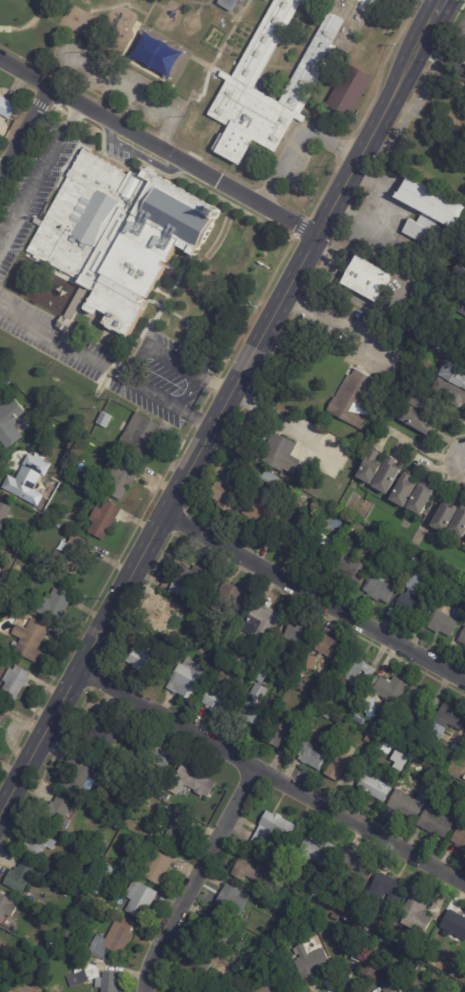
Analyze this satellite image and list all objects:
building: (268, 0)
building: (230, 4)
road: (438, 11)
road: (27, 23)
park: (35, 29)
building: (217, 29)
building: (264, 40)
building: (325, 47)
building: (191, 79)
road: (119, 84)
parking lot: (118, 86)
building: (349, 90)
building: (8, 106)
building: (245, 123)
building: (446, 123)
road: (25, 129)
road: (298, 138)
road: (158, 147)
parking lot: (295, 157)
road: (39, 166)
building: (427, 210)
road: (381, 212)
building: (170, 246)
building: (459, 269)
building: (365, 281)
building: (461, 308)
road: (333, 321)
road: (62, 340)
building: (431, 343)
building: (460, 345)
building: (441, 347)
road: (172, 361)
building: (453, 376)
building: (446, 392)
building: (352, 399)
building: (417, 400)
road: (167, 402)
road: (279, 414)
building: (411, 417)
road: (215, 421)
building: (12, 425)
building: (142, 434)
building: (276, 452)
building: (368, 466)
building: (292, 470)
building: (386, 474)
building: (124, 477)
building: (268, 479)
building: (26, 481)
building: (402, 488)
building: (222, 494)
building: (418, 500)
building: (313, 506)
building: (291, 509)
building: (256, 512)
building: (36, 517)
building: (442, 517)
building: (106, 520)
building: (6, 521)
building: (459, 522)
building: (291, 529)
building: (323, 537)
building: (21, 543)
building: (393, 545)
building: (0, 550)
building: (396, 554)
building: (76, 555)
building: (352, 562)
building: (186, 581)
building: (2, 582)
building: (377, 588)
road: (313, 599)
building: (410, 600)
building: (5, 602)
building: (58, 604)
building: (226, 605)
building: (164, 614)
building: (441, 620)
building: (260, 624)
building: (296, 632)
building: (462, 637)
building: (33, 639)
building: (173, 641)
building: (16, 644)
building: (327, 648)
building: (274, 653)
building: (145, 654)
building: (309, 663)
building: (354, 671)
building: (186, 681)
building: (17, 682)
building: (382, 694)
building: (218, 700)
building: (253, 704)
building: (413, 705)
building: (324, 714)
building: (3, 717)
building: (444, 722)
building: (280, 732)
building: (102, 735)
building: (368, 739)
building: (464, 745)
building: (310, 754)
building: (420, 754)
building: (151, 756)
building: (339, 768)
building: (427, 769)
road: (272, 777)
building: (78, 778)
building: (189, 783)
building: (372, 788)
building: (163, 796)
building: (401, 804)
building: (162, 806)
building: (57, 813)
building: (433, 822)
building: (174, 830)
building: (268, 833)
building: (311, 833)
building: (458, 839)
building: (36, 842)
building: (313, 855)
building: (351, 868)
building: (155, 870)
building: (247, 871)
building: (22, 877)
road: (198, 879)
building: (99, 883)
building: (388, 888)
building: (278, 891)
building: (137, 900)
building: (231, 901)
building: (5, 908)
building: (414, 914)
building: (332, 917)
building: (453, 926)
building: (213, 933)
building: (258, 933)
building: (67, 938)
building: (112, 941)
building: (1, 945)
building: (259, 948)
building: (307, 962)
building: (367, 962)
building: (192, 966)
building: (233, 969)
building: (93, 979)
building: (267, 987)
building: (389, 987)
building: (9, 991)
building: (189, 991)

